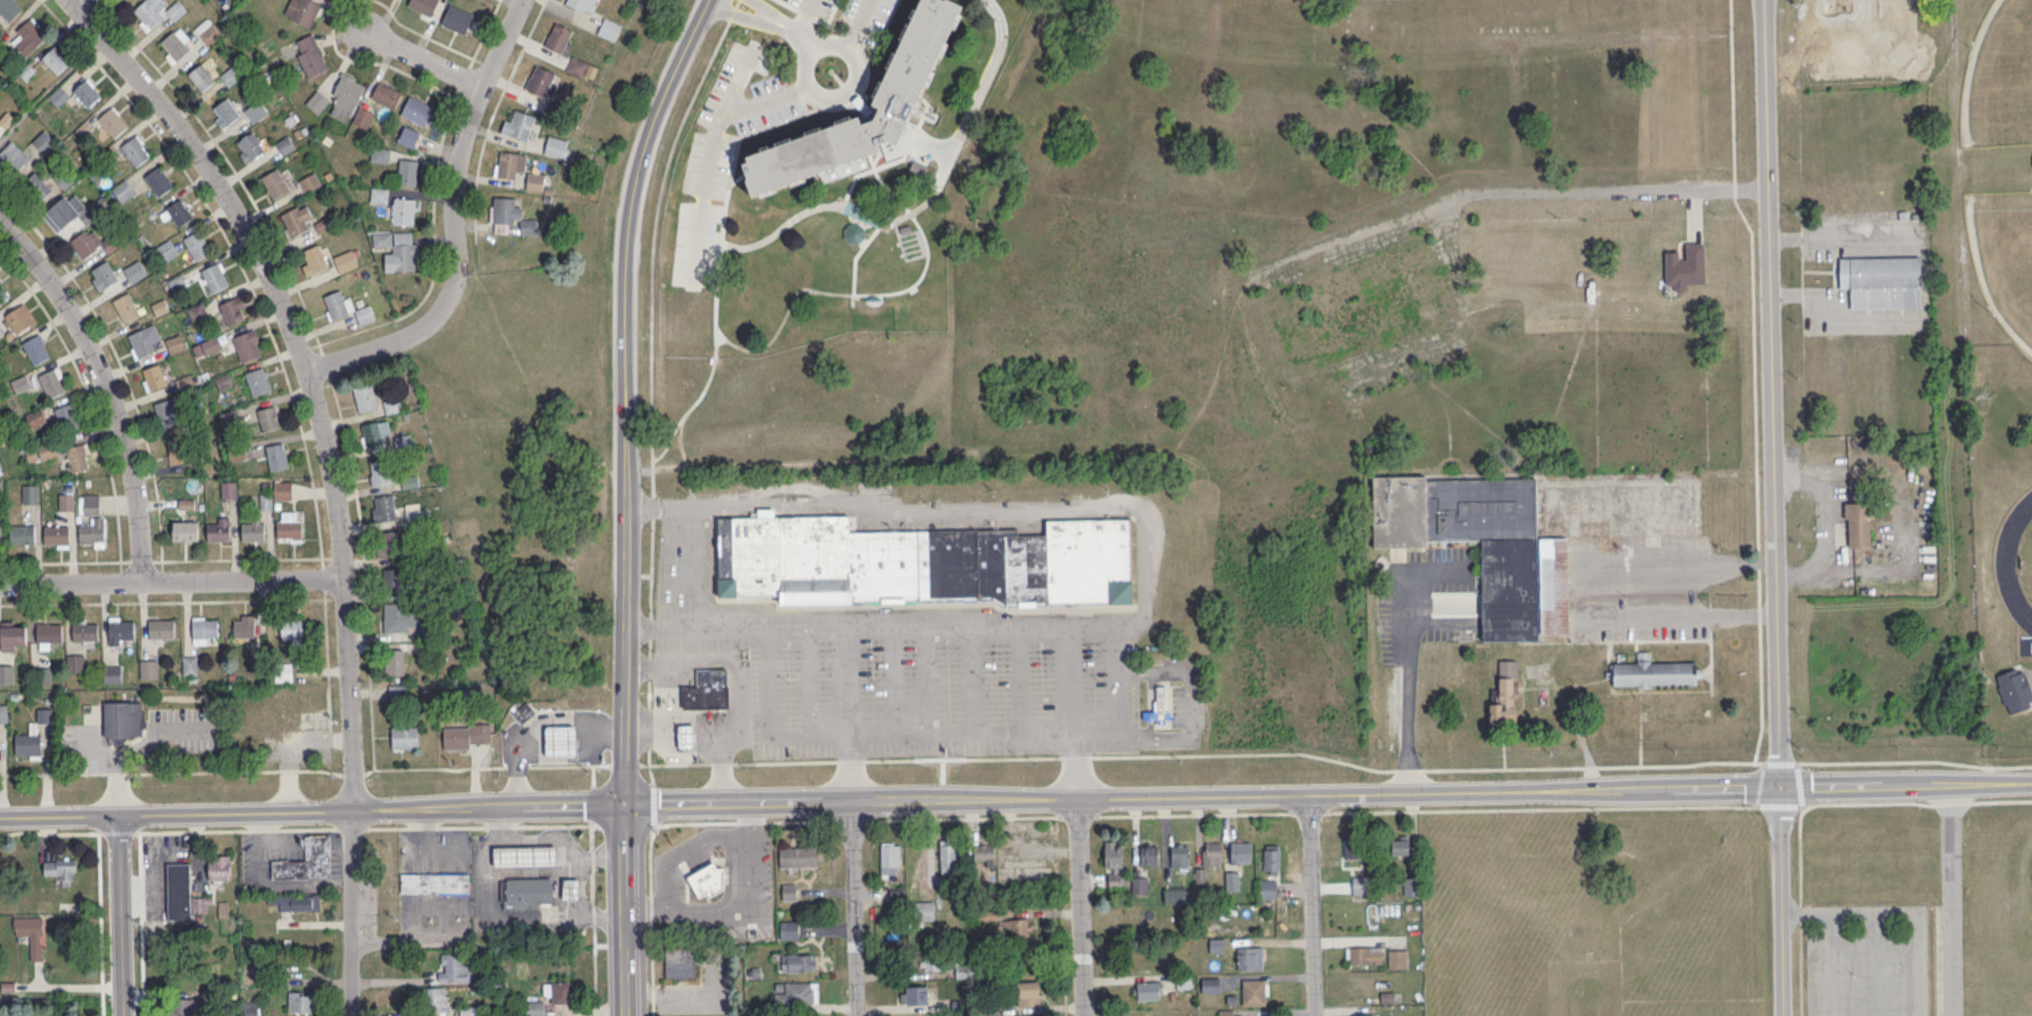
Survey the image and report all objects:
road: (86, 2)
building: (583, 4)
building: (423, 5)
parking lot: (814, 6)
road: (761, 7)
building: (10, 8)
building: (302, 10)
building: (157, 11)
parking lot: (865, 14)
road: (805, 17)
road: (814, 18)
building: (460, 20)
building: (609, 28)
road: (856, 28)
building: (209, 32)
road: (795, 33)
building: (28, 36)
building: (560, 38)
building: (176, 44)
building: (311, 55)
building: (914, 55)
road: (818, 57)
road: (424, 59)
building: (56, 60)
building: (577, 66)
road: (743, 73)
building: (230, 75)
building: (202, 76)
building: (539, 80)
park: (2003, 83)
road: (1731, 90)
building: (87, 92)
building: (386, 94)
building: (59, 95)
road: (980, 95)
building: (346, 96)
building: (318, 101)
building: (417, 110)
building: (256, 111)
building: (225, 112)
building: (363, 117)
building: (113, 121)
building: (519, 125)
building: (409, 136)
building: (44, 141)
building: (285, 145)
building: (555, 146)
building: (249, 147)
building: (136, 150)
building: (380, 154)
building: (14, 155)
building: (510, 163)
building: (408, 171)
building: (158, 179)
building: (310, 181)
building: (535, 181)
building: (276, 183)
road: (707, 185)
building: (36, 186)
road: (1507, 188)
road: (1734, 188)
building: (123, 190)
building: (380, 194)
road: (5, 195)
building: (63, 210)
building: (404, 210)
building: (179, 211)
building: (504, 213)
building: (297, 218)
park: (1996, 222)
road: (455, 225)
building: (528, 227)
road: (1839, 238)
building: (93, 242)
building: (196, 244)
building: (398, 249)
building: (167, 250)
park: (2005, 253)
road: (5, 257)
building: (315, 259)
building: (346, 260)
building: (1685, 265)
building: (135, 270)
building: (104, 274)
building: (214, 276)
building: (1881, 281)
building: (3, 293)
building: (126, 306)
building: (345, 307)
building: (233, 309)
building: (197, 312)
road: (1833, 312)
building: (20, 318)
building: (143, 340)
building: (175, 343)
building: (248, 345)
building: (207, 346)
building: (37, 349)
road: (310, 372)
building: (154, 376)
building: (258, 381)
building: (52, 382)
building: (21, 383)
road: (651, 383)
road: (105, 385)
building: (365, 396)
road: (629, 396)
building: (165, 411)
building: (36, 416)
building: (66, 416)
building: (269, 417)
building: (377, 432)
building: (176, 450)
building: (42, 451)
building: (277, 456)
building: (78, 457)
building: (0, 468)
building: (379, 472)
road: (1756, 477)
road: (794, 486)
building: (228, 489)
building: (283, 489)
building: (30, 493)
building: (67, 501)
building: (90, 504)
building: (384, 507)
road: (1777, 508)
road: (955, 510)
building: (1858, 524)
building: (289, 525)
building: (218, 529)
building: (253, 530)
building: (185, 531)
building: (0, 532)
building: (92, 532)
building: (22, 534)
building: (1470, 534)
building: (57, 535)
road: (681, 536)
building: (390, 543)
building: (923, 560)
road: (1597, 561)
track: (2018, 561)
road: (4, 562)
road: (702, 566)
parking lot: (677, 567)
road: (172, 579)
building: (393, 579)
road: (681, 580)
road: (166, 600)
road: (1710, 601)
road: (1744, 614)
building: (398, 617)
road: (872, 620)
building: (244, 625)
building: (204, 627)
building: (121, 628)
building: (162, 628)
building: (85, 630)
building: (291, 630)
building: (48, 631)
building: (13, 633)
road: (1617, 640)
road: (1711, 653)
road: (1409, 656)
road: (327, 657)
building: (394, 661)
building: (75, 662)
building: (257, 663)
building: (190, 664)
building: (149, 668)
building: (283, 670)
building: (6, 672)
building: (1655, 672)
building: (112, 673)
building: (40, 675)
road: (975, 675)
road: (928, 676)
road: (894, 677)
road: (1074, 677)
road: (810, 678)
road: (850, 678)
road: (1020, 678)
road: (740, 681)
building: (707, 688)
building: (2014, 689)
parking lot: (929, 694)
building: (1505, 695)
road: (1193, 703)
road: (1150, 704)
parking lot: (1177, 704)
building: (1158, 707)
building: (523, 711)
building: (3, 712)
road: (682, 718)
building: (123, 720)
road: (562, 729)
road: (602, 729)
road: (939, 732)
building: (467, 735)
building: (686, 735)
building: (404, 737)
building: (562, 739)
building: (27, 743)
road: (1335, 759)
road: (517, 761)
road: (1077, 763)
road: (624, 764)
road: (569, 765)
road: (517, 766)
road: (435, 768)
road: (853, 768)
road: (172, 771)
road: (354, 774)
road: (593, 775)
road: (1760, 783)
road: (1799, 783)
traffic signals: (1782, 785)
road: (1329, 791)
road: (593, 803)
traffic signals: (627, 807)
road: (1679, 807)
road: (313, 812)
road: (1310, 812)
road: (1194, 813)
road: (967, 817)
road: (1078, 817)
road: (852, 820)
road: (648, 825)
road: (481, 826)
road: (499, 827)
road: (351, 828)
road: (237, 829)
road: (119, 831)
road: (50, 832)
road: (652, 832)
building: (1351, 843)
building: (1400, 845)
building: (1240, 851)
road: (678, 852)
building: (984, 853)
building: (1212, 853)
building: (523, 854)
road: (500, 855)
building: (948, 855)
building: (1149, 855)
building: (1179, 855)
building: (798, 856)
building: (1271, 858)
building: (307, 860)
building: (889, 860)
building: (1114, 864)
building: (62, 868)
building: (219, 868)
road: (565, 868)
building: (1200, 873)
building: (706, 879)
building: (1232, 880)
building: (434, 883)
building: (1139, 884)
building: (1360, 884)
building: (1409, 885)
building: (571, 887)
building: (1268, 888)
building: (526, 891)
road: (726, 891)
building: (789, 891)
building: (182, 892)
building: (1174, 894)
road: (1952, 899)
building: (296, 901)
road: (1315, 903)
road: (1082, 905)
road: (857, 909)
building: (922, 910)
road: (627, 911)
road: (1902, 911)
road: (355, 913)
road: (127, 915)
road: (745, 915)
road: (593, 918)
road: (522, 928)
building: (1013, 928)
building: (789, 929)
building: (31, 933)
building: (925, 939)
building: (1364, 954)
building: (1246, 957)
building: (1397, 958)
building: (680, 962)
building: (797, 962)
building: (934, 962)
road: (1829, 963)
road: (1874, 963)
building: (453, 968)
building: (1210, 984)
building: (1363, 985)
road: (76, 986)
building: (1149, 989)
building: (1254, 991)
building: (796, 993)
building: (1029, 993)
building: (913, 994)
building: (551, 996)
building: (299, 1001)
building: (437, 1001)
building: (186, 1007)
building: (470, 1010)
building: (252, 1011)
building: (1228, 1012)

